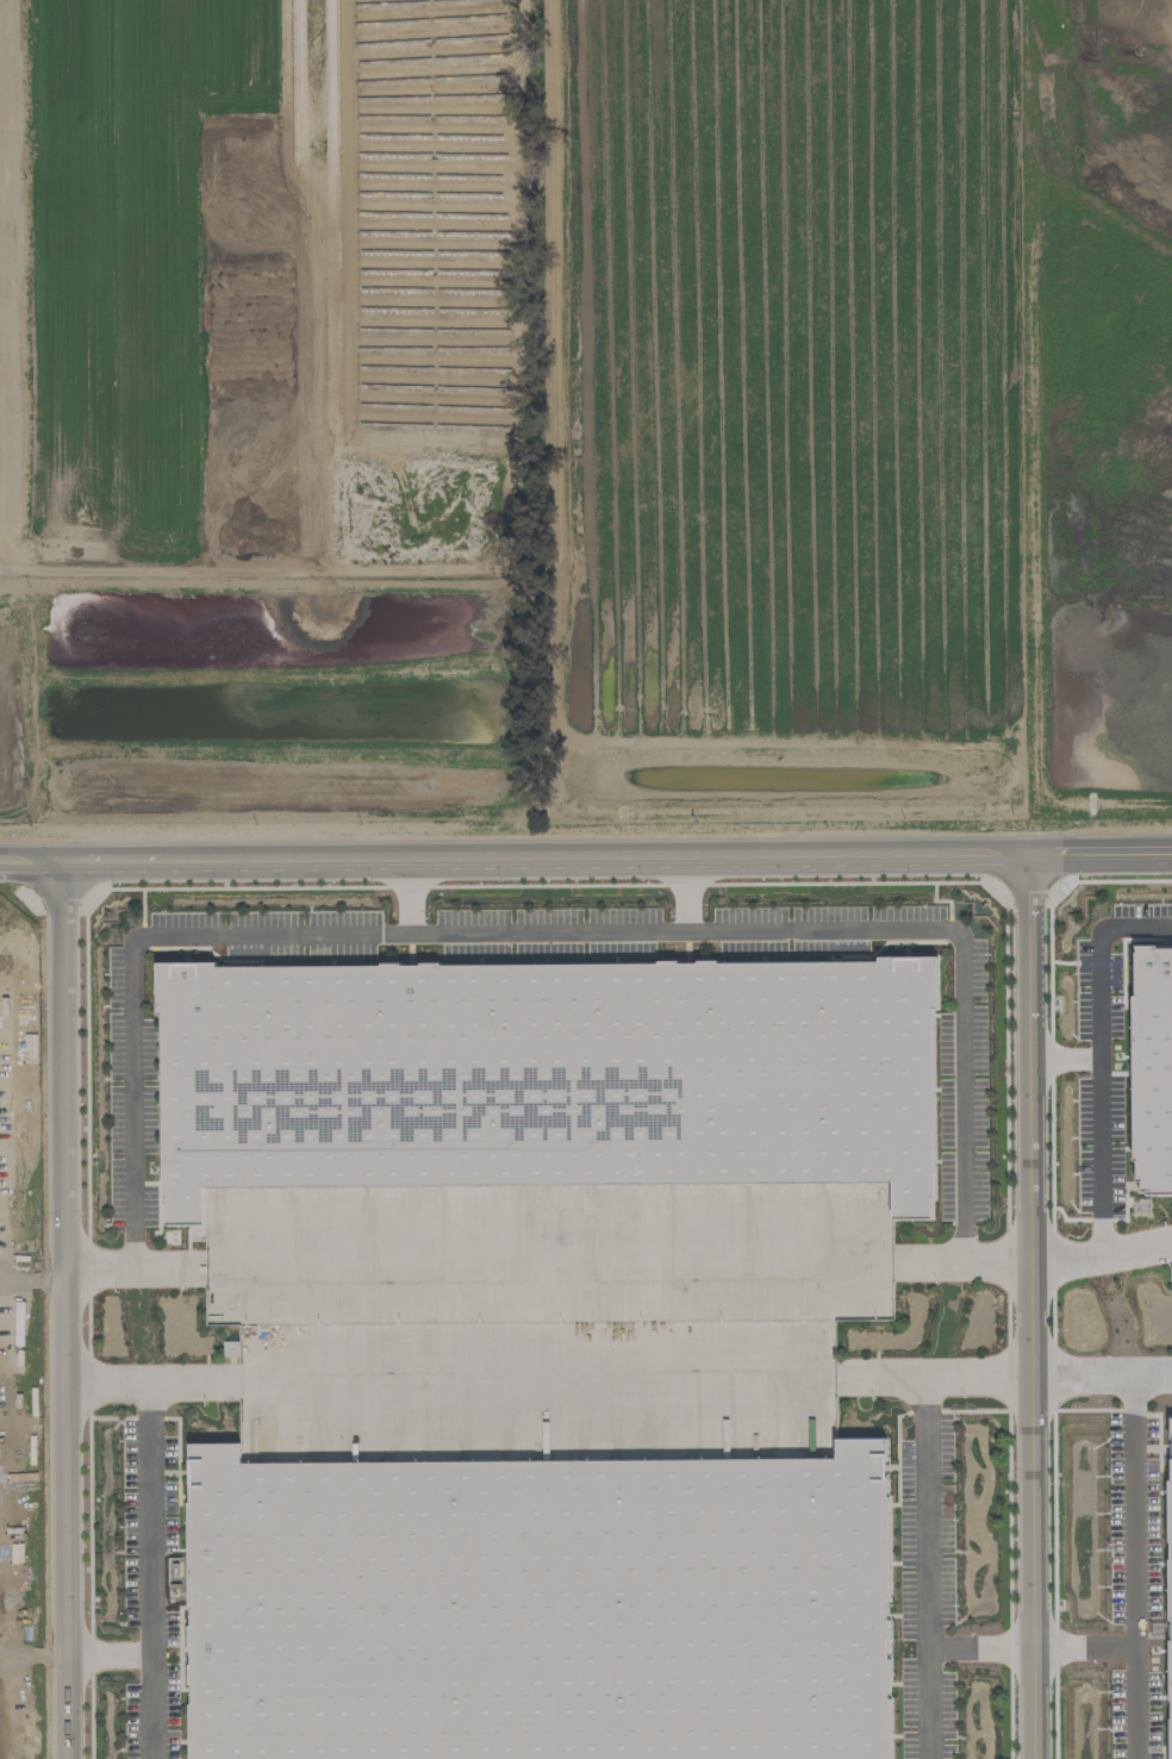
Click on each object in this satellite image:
road: (585, 850)
road: (686, 891)
road: (879, 930)
road: (136, 962)
road: (1064, 1048)
building: (546, 1075)
road: (1102, 1080)
road: (1027, 1114)
building: (197, 1231)
road: (1132, 1240)
road: (548, 1262)
road: (62, 1308)
road: (1154, 1364)
road: (546, 1380)
road: (1136, 1508)
road: (925, 1568)
road: (1030, 1570)
road: (152, 1572)
building: (538, 1608)
road: (1084, 1639)
road: (979, 1647)
road: (110, 1657)

